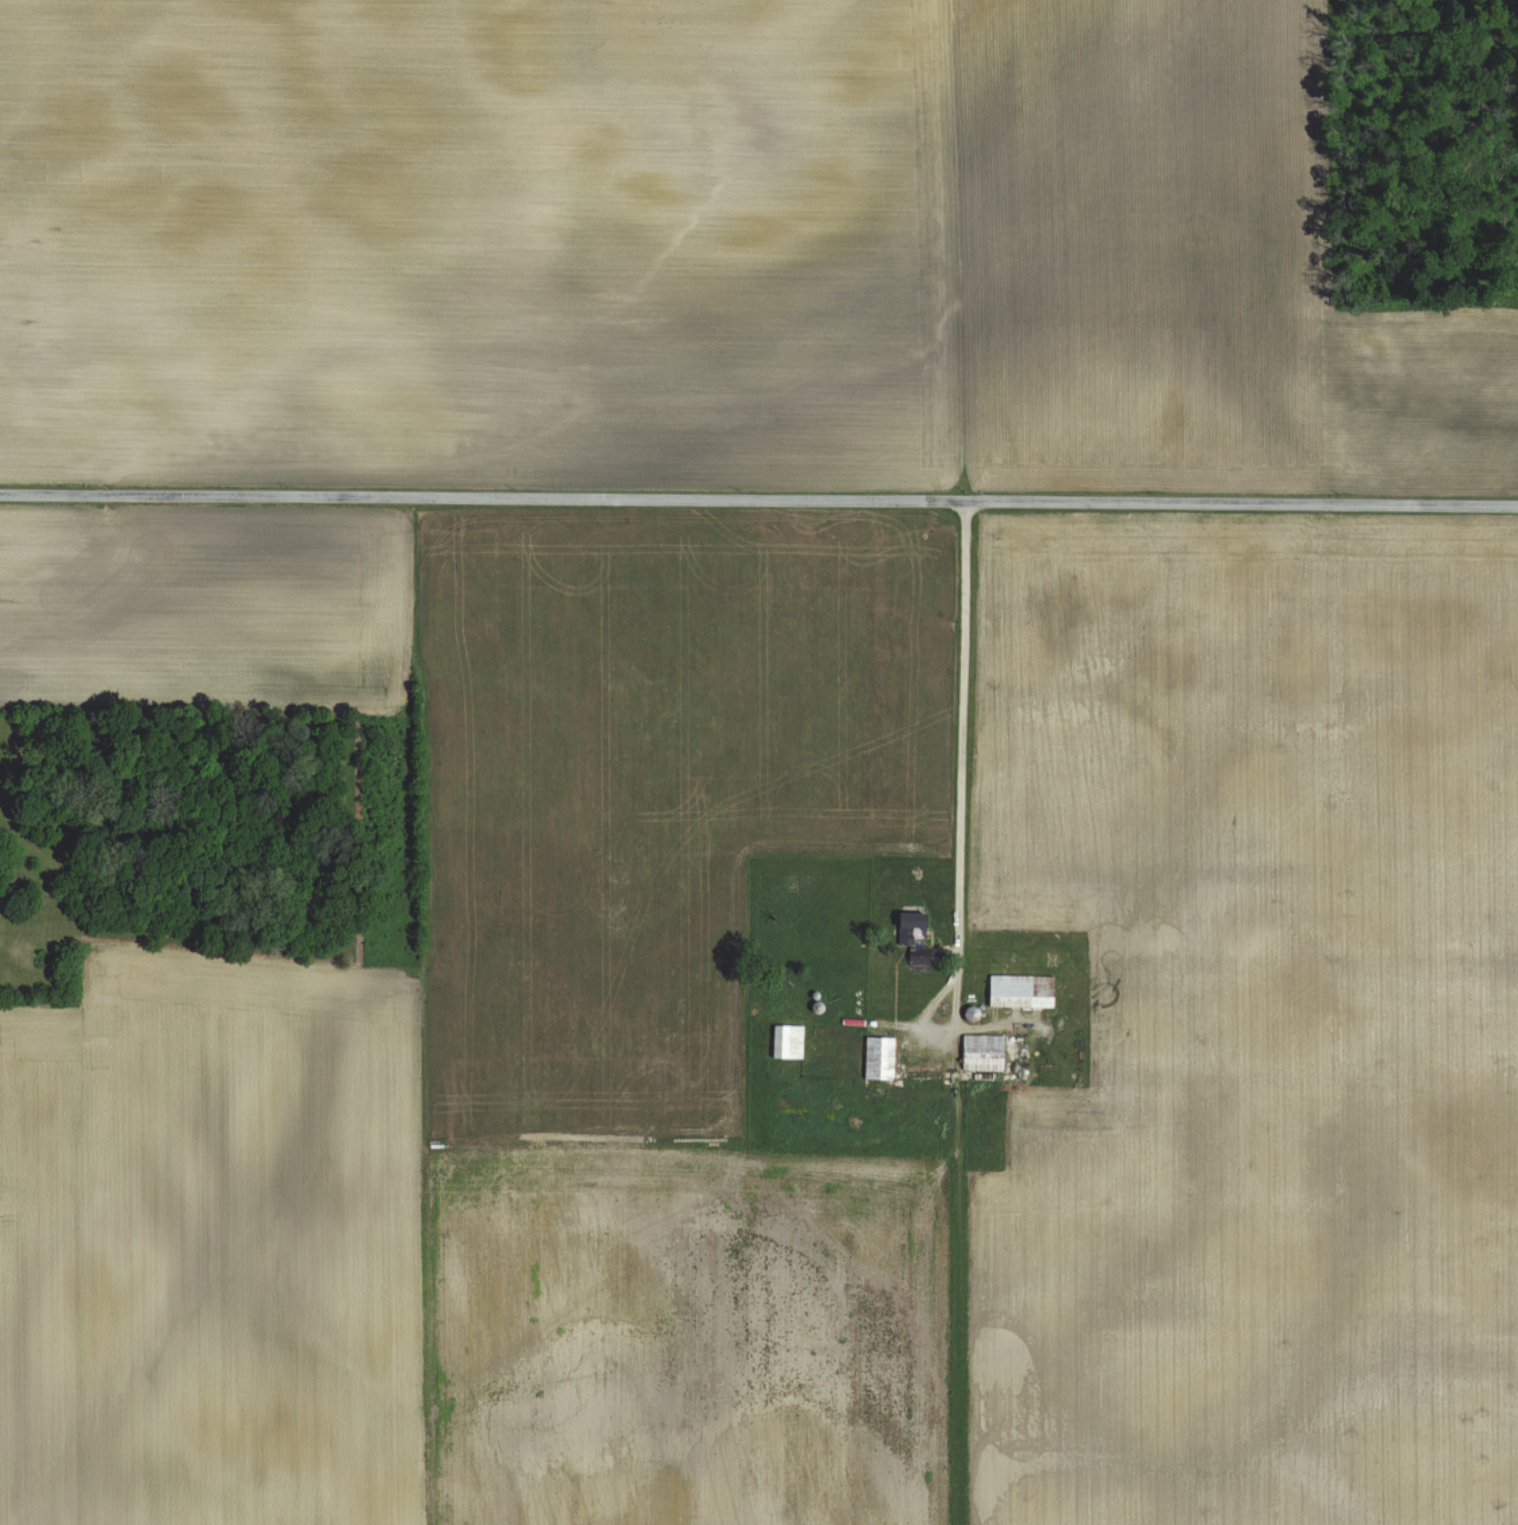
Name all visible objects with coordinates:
road: (758, 498)
road: (964, 807)
building: (914, 937)
building: (1022, 992)
building: (789, 1043)
building: (984, 1053)
building: (880, 1059)

